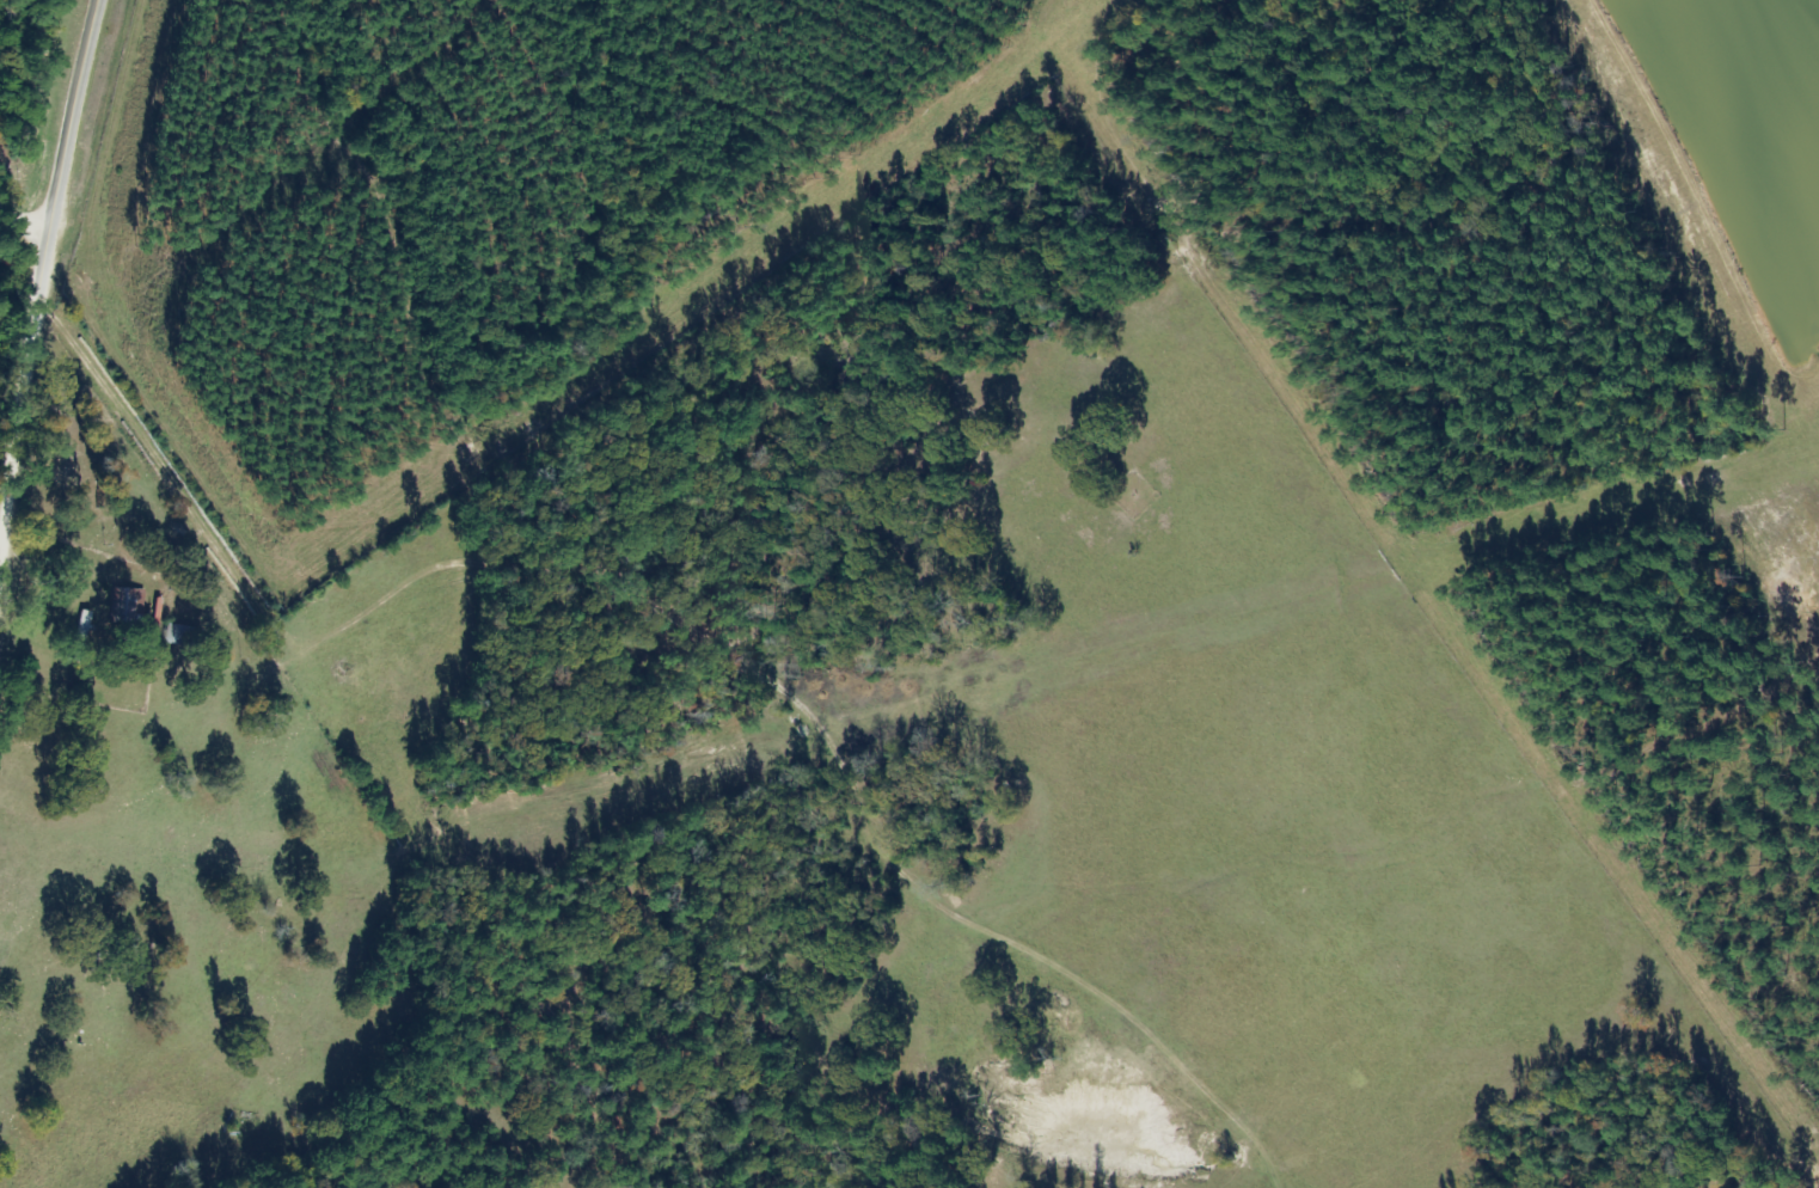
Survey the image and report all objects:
road: (68, 137)
road: (23, 239)
road: (23, 342)
building: (128, 606)

